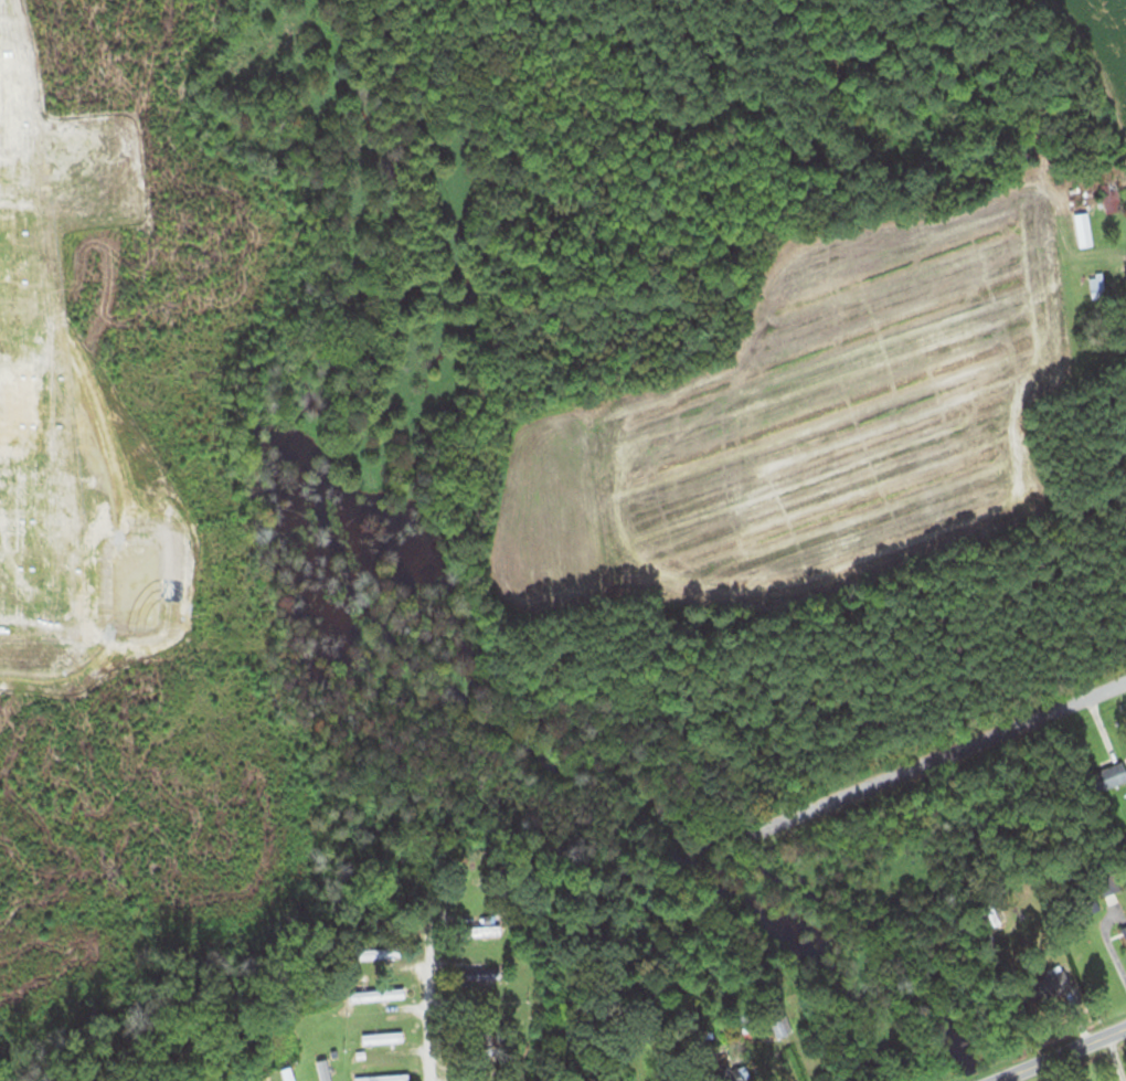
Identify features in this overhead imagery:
building: (1111, 197)
building: (1084, 230)
building: (1097, 287)
solar farm: (92, 391)
road: (941, 755)
building: (992, 918)
building: (1125, 924)
building: (485, 930)
building: (381, 953)
building: (485, 973)
building: (1055, 983)
building: (376, 994)
road: (429, 1014)
building: (383, 1038)
road: (1058, 1052)
building: (288, 1073)
building: (382, 1078)

